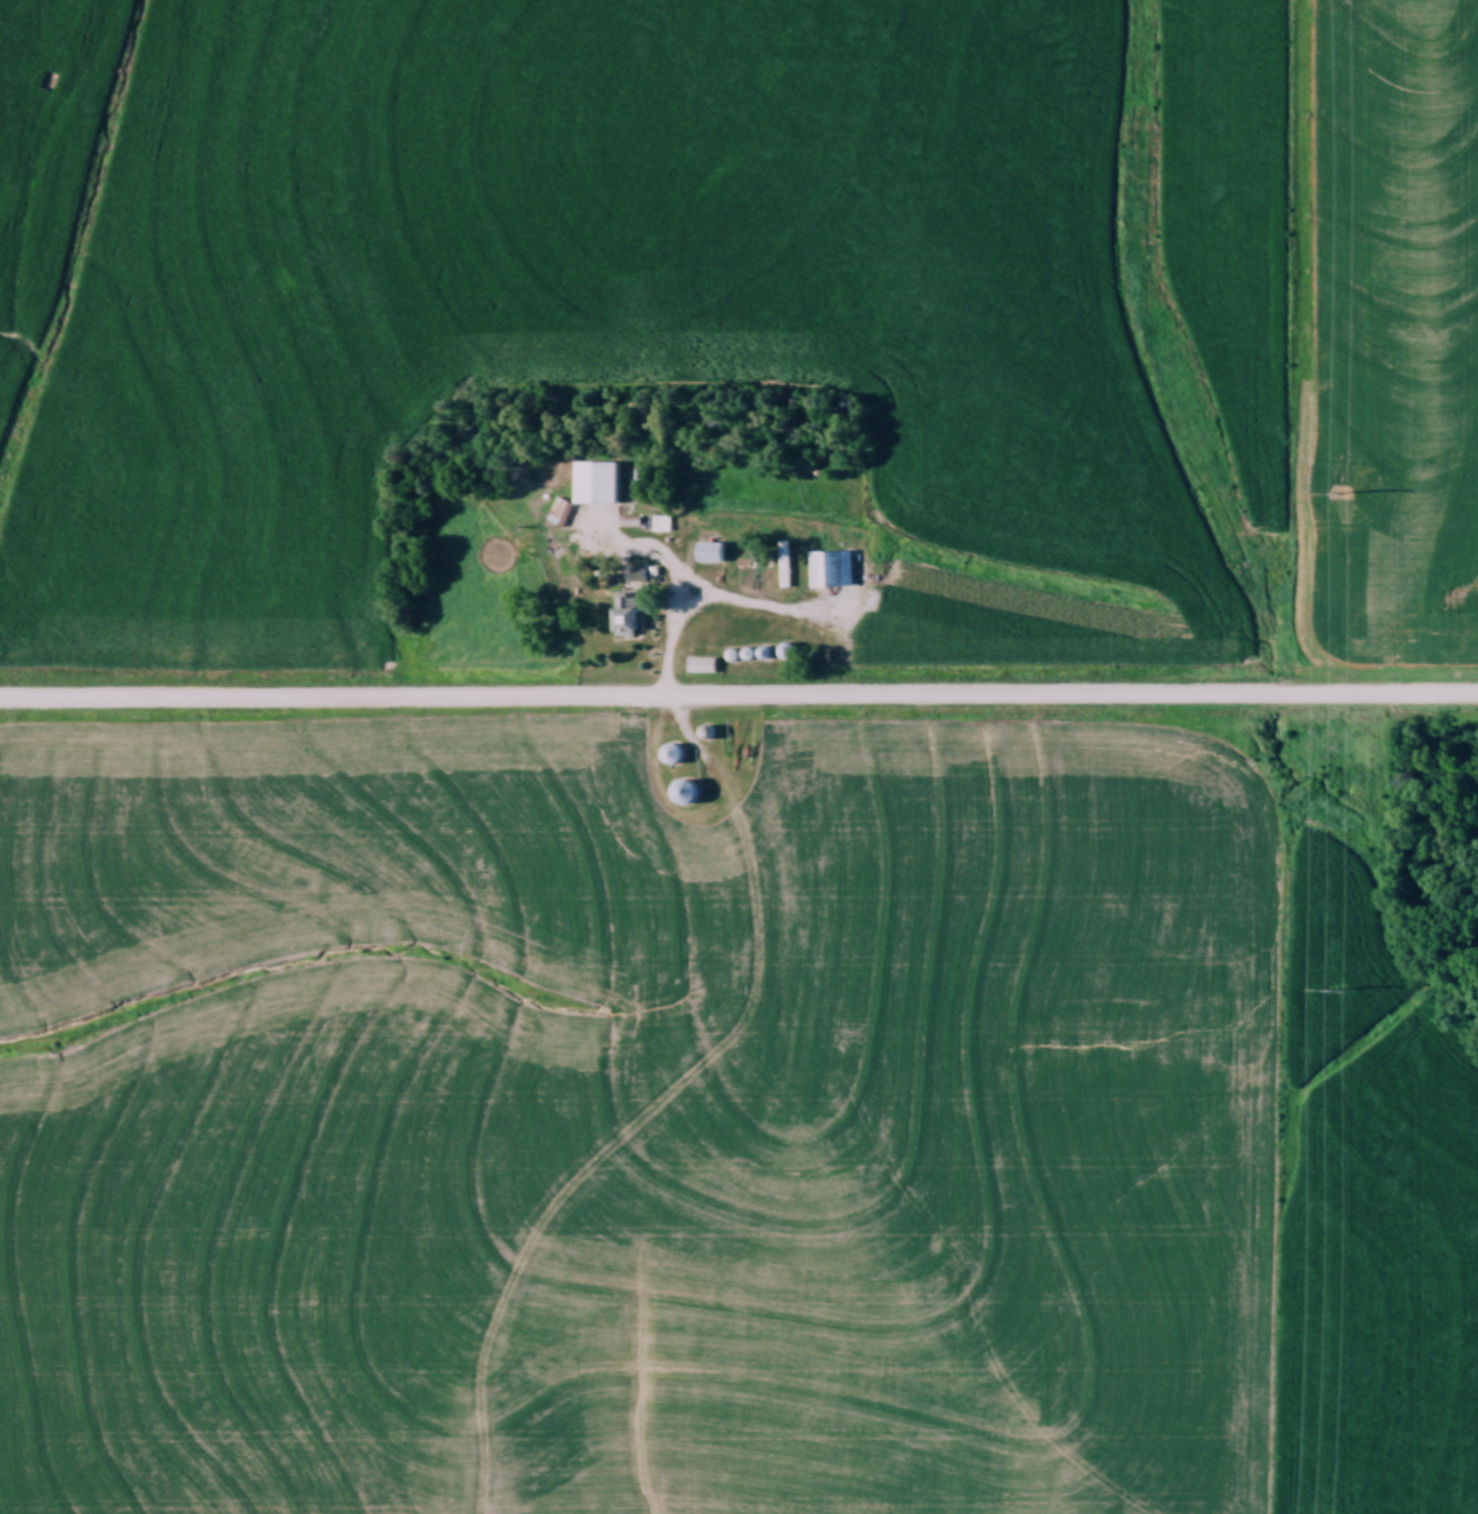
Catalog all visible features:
building: (601, 484)
power tower: (1340, 493)
building: (558, 513)
building: (664, 523)
building: (714, 552)
road: (649, 553)
building: (833, 569)
road: (716, 595)
building: (627, 601)
building: (631, 622)
road: (738, 700)
power tower: (1334, 991)

